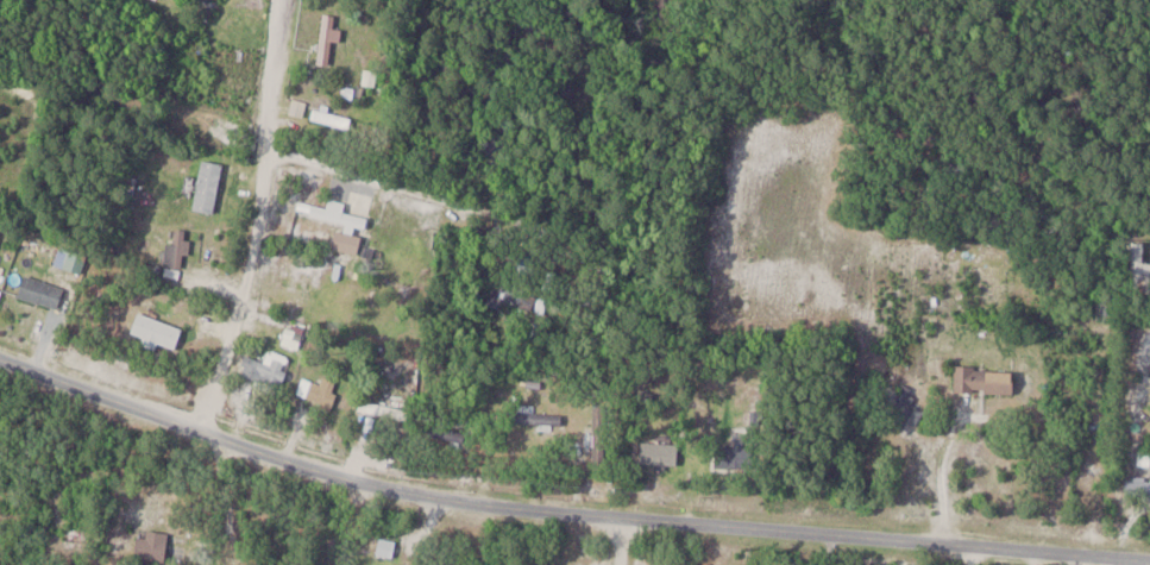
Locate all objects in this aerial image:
building: (328, 38)
building: (299, 107)
road: (189, 126)
building: (207, 184)
road: (435, 190)
building: (339, 214)
road: (256, 219)
building: (347, 241)
building: (177, 249)
building: (67, 258)
building: (42, 290)
building: (522, 299)
building: (156, 331)
building: (269, 369)
building: (985, 378)
building: (319, 390)
building: (539, 418)
building: (599, 433)
building: (739, 456)
road: (935, 476)
road: (564, 514)
building: (152, 545)
building: (387, 547)

